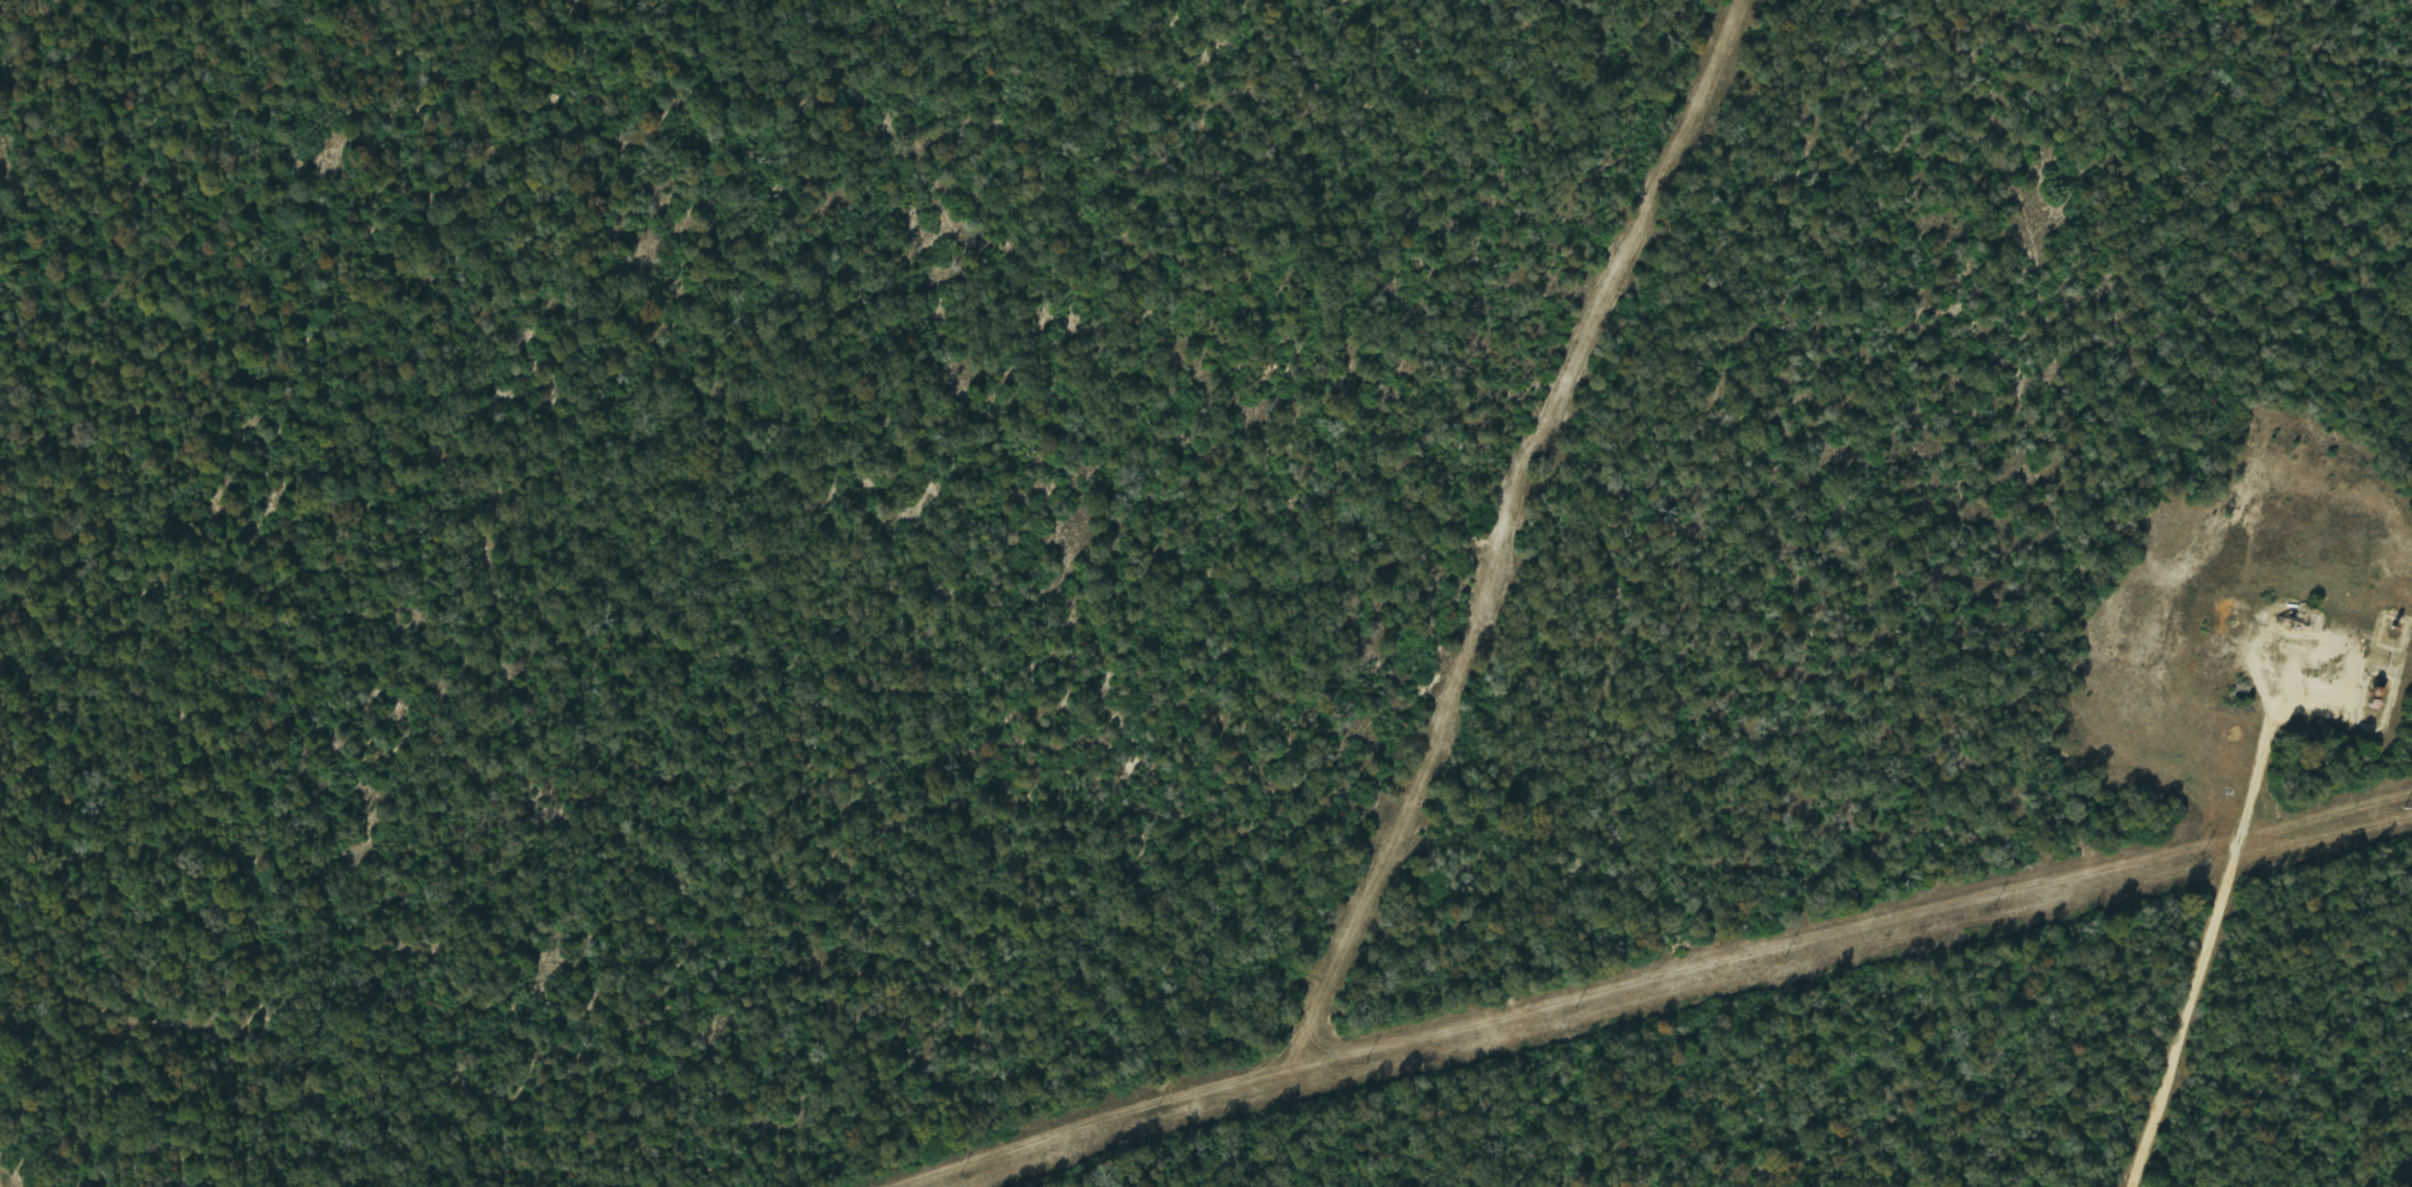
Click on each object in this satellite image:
petroleum well: (2278, 621)
chimney: (2388, 626)
road: (2310, 638)
building: (2373, 683)
silo: (2373, 683)
building: (2372, 692)
silo: (2372, 692)
building: (2370, 703)
silo: (2370, 703)
road: (2205, 950)

